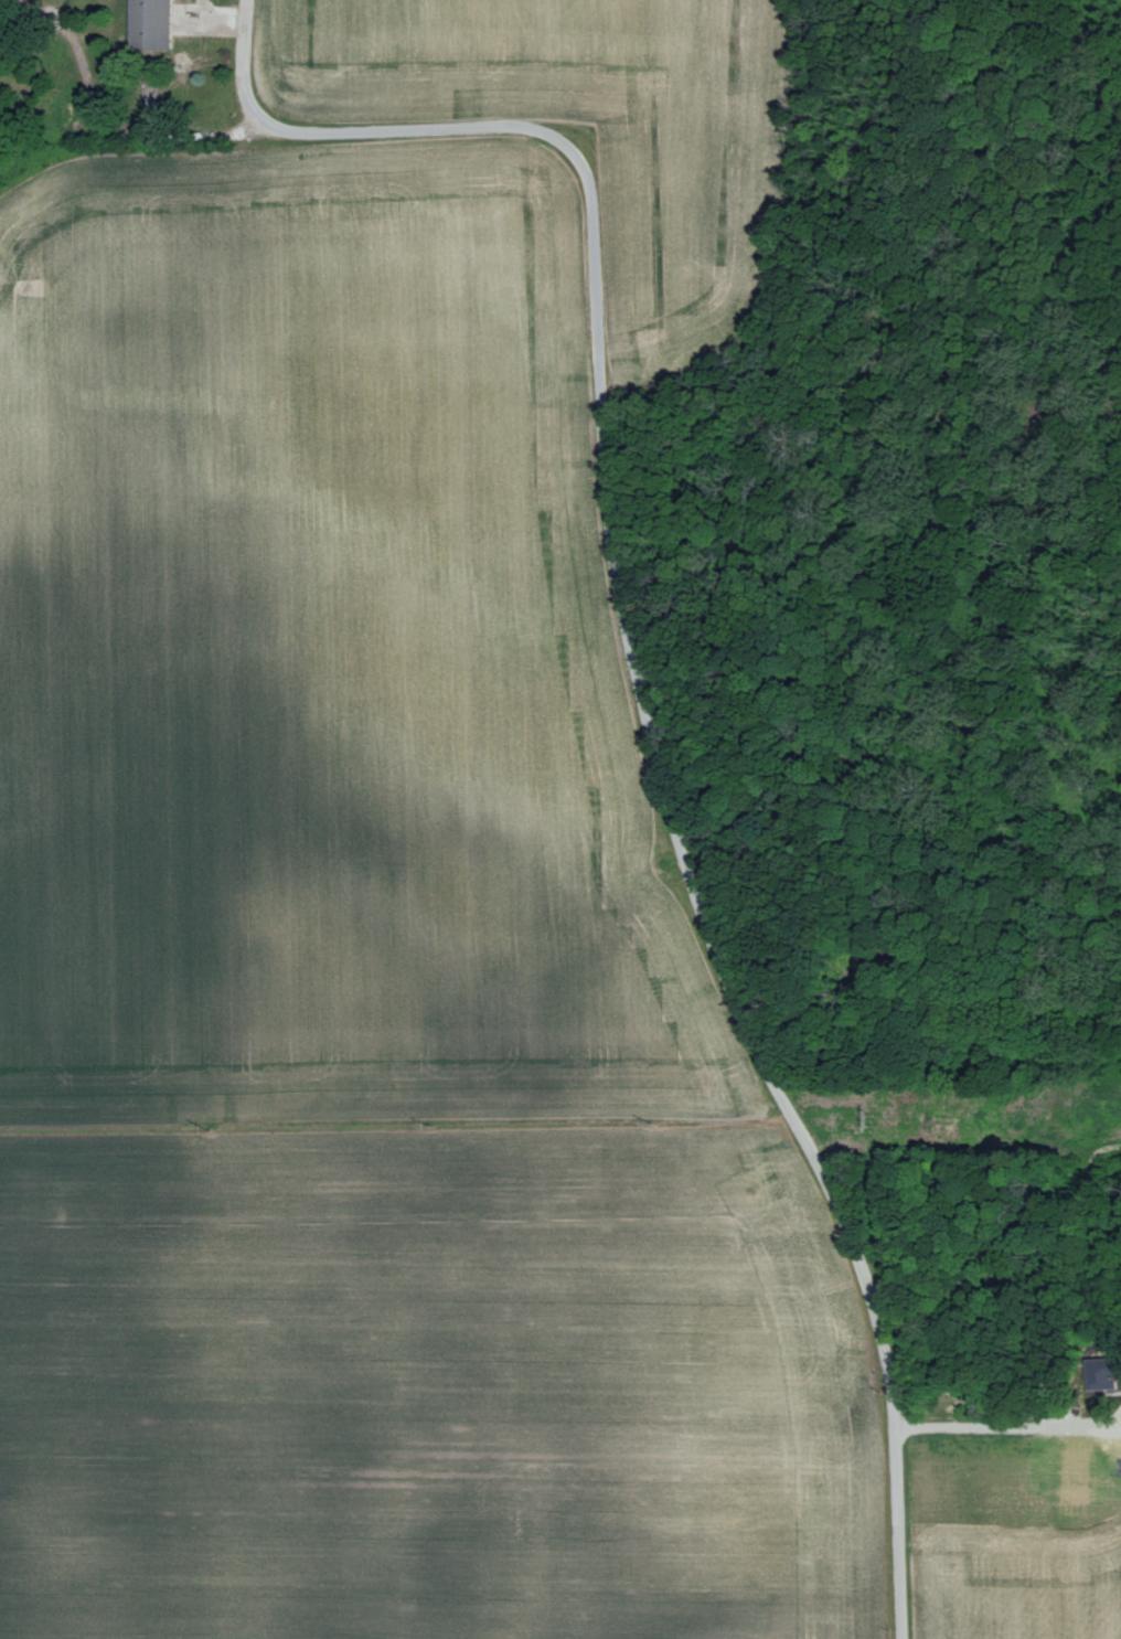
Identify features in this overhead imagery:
building: (152, 24)
road: (615, 704)
building: (1104, 1373)

